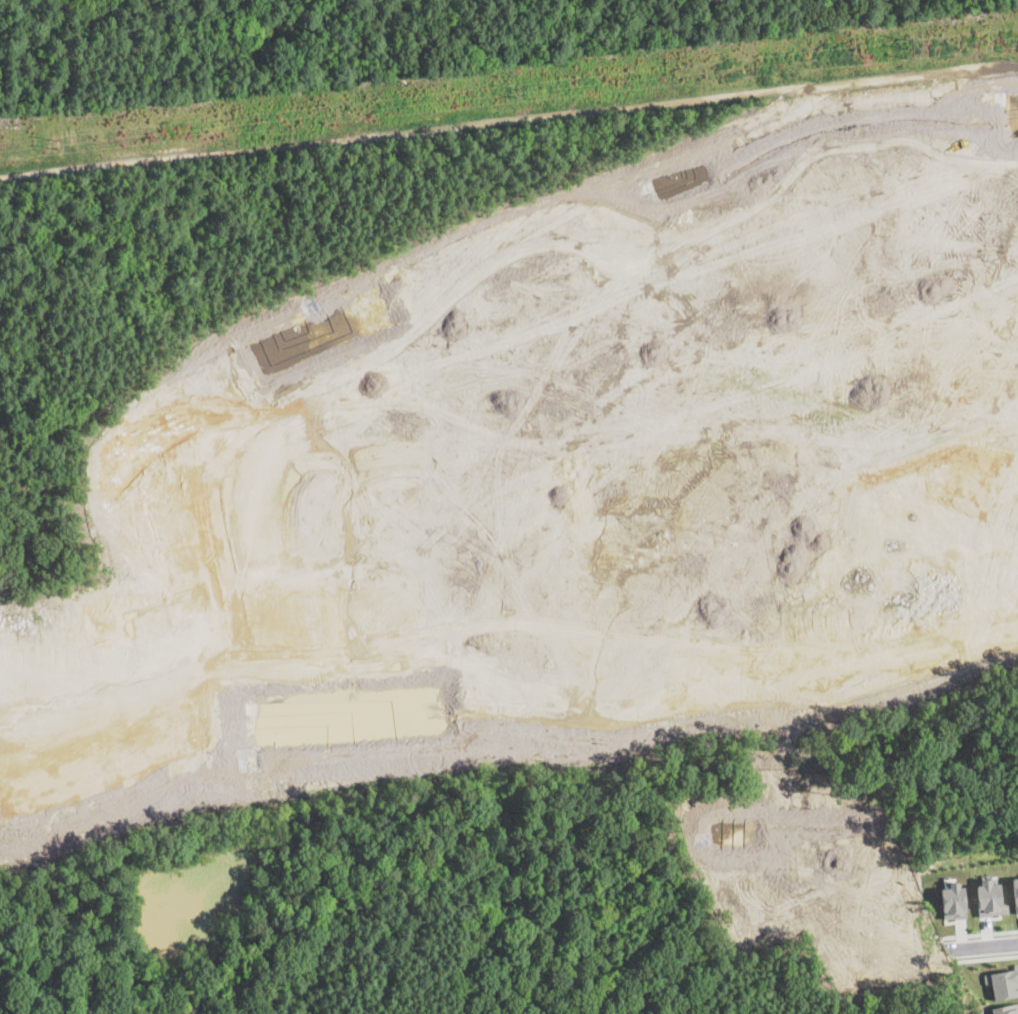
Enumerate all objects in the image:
power tower: (908, 47)
power tower: (513, 91)
road: (509, 127)
power tower: (56, 142)
road: (509, 308)
road: (856, 356)
road: (975, 384)
road: (997, 405)
road: (653, 462)
road: (774, 471)
road: (921, 548)
road: (919, 644)
road: (359, 647)
road: (821, 651)
road: (814, 883)
building: (1014, 892)
building: (989, 897)
building: (952, 900)
road: (980, 933)
road: (982, 945)
road: (987, 957)
building: (1002, 981)
building: (1006, 1008)

